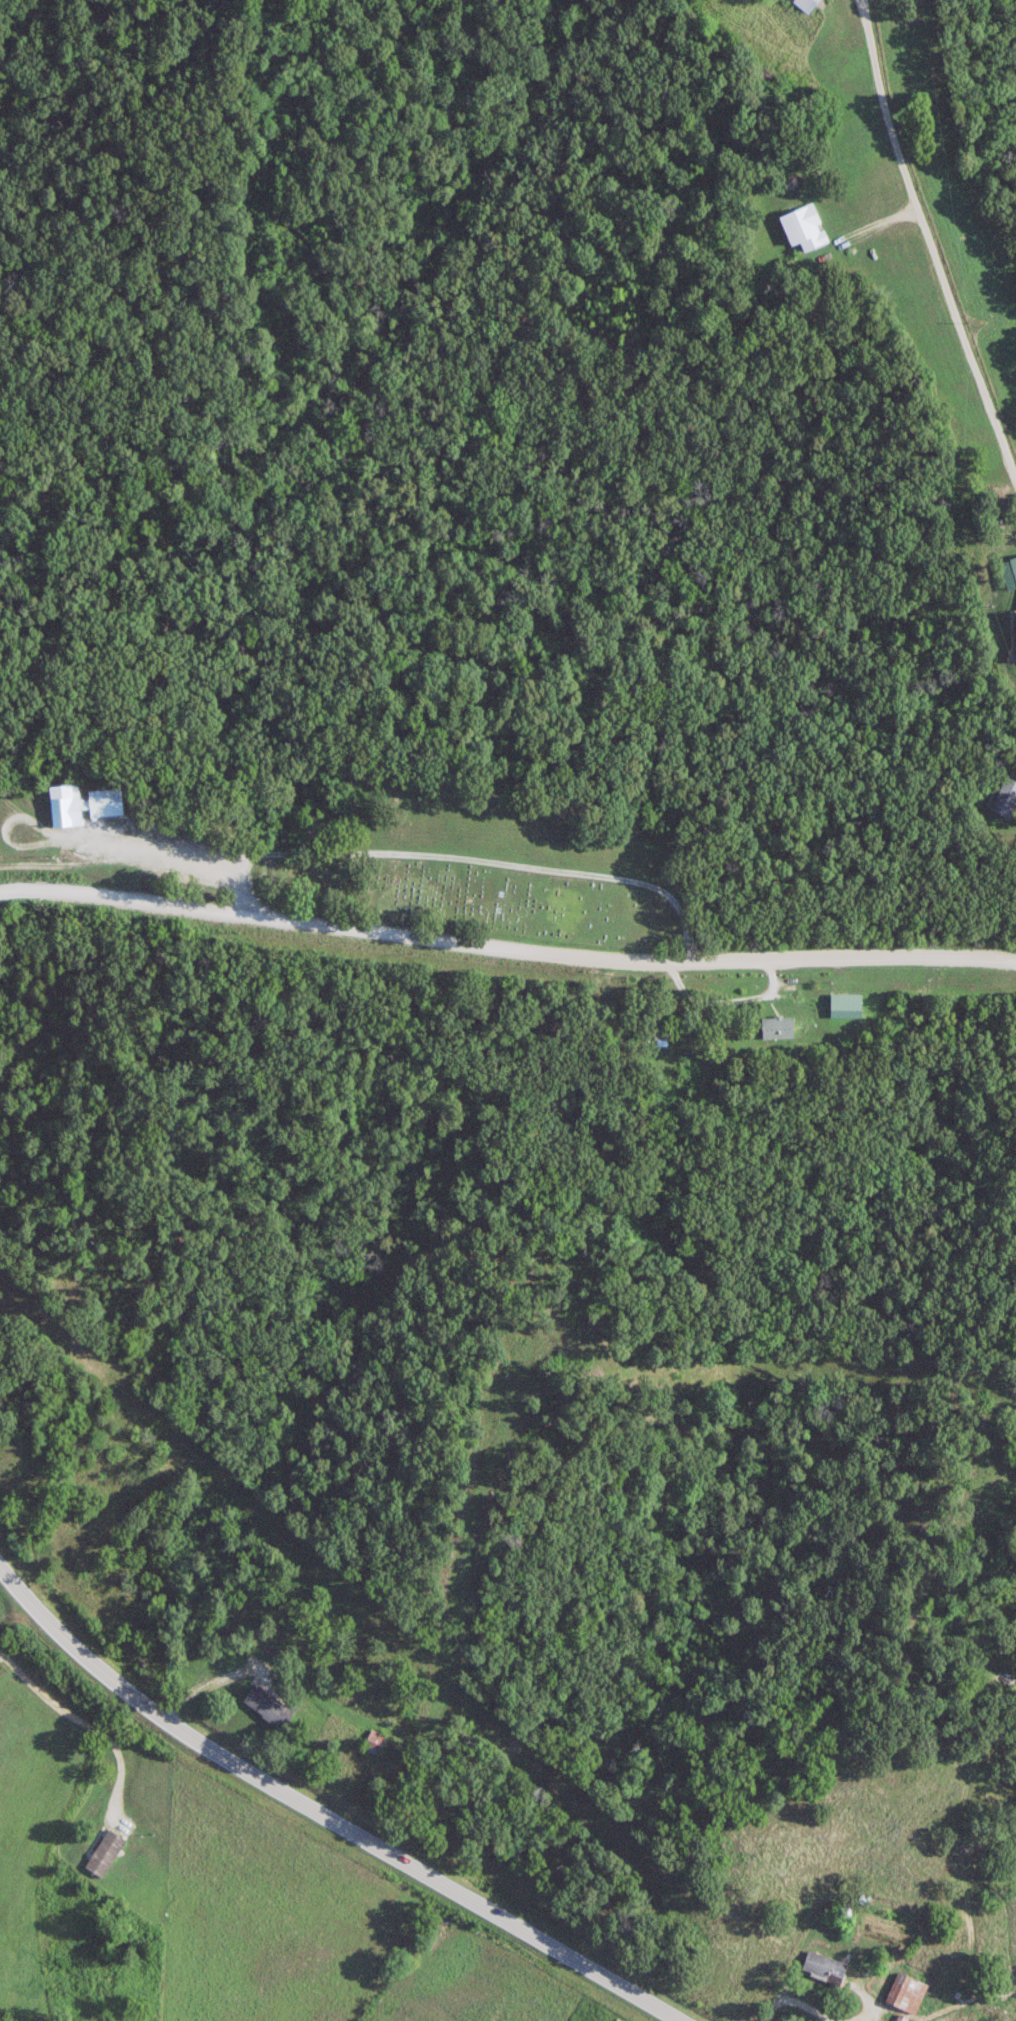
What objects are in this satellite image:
building: (810, 3)
building: (805, 227)
road: (928, 239)
building: (1014, 564)
building: (1001, 797)
building: (83, 804)
park: (20, 826)
road: (455, 857)
park: (471, 886)
road: (507, 930)
building: (848, 1002)
building: (778, 1027)
building: (269, 1706)
road: (78, 1719)
building: (375, 1742)
road: (326, 1814)
building: (105, 1852)
building: (825, 1965)
building: (908, 1991)

